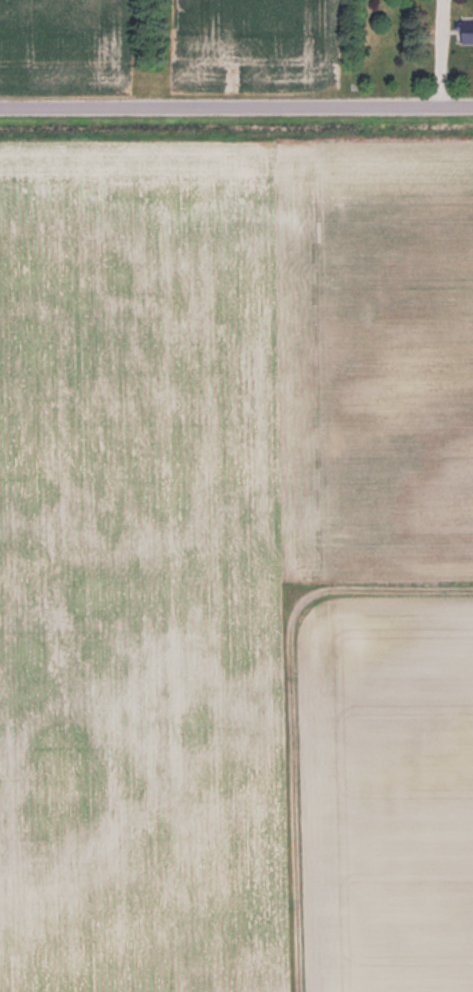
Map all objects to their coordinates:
building: (466, 30)
road: (440, 52)
road: (236, 105)

